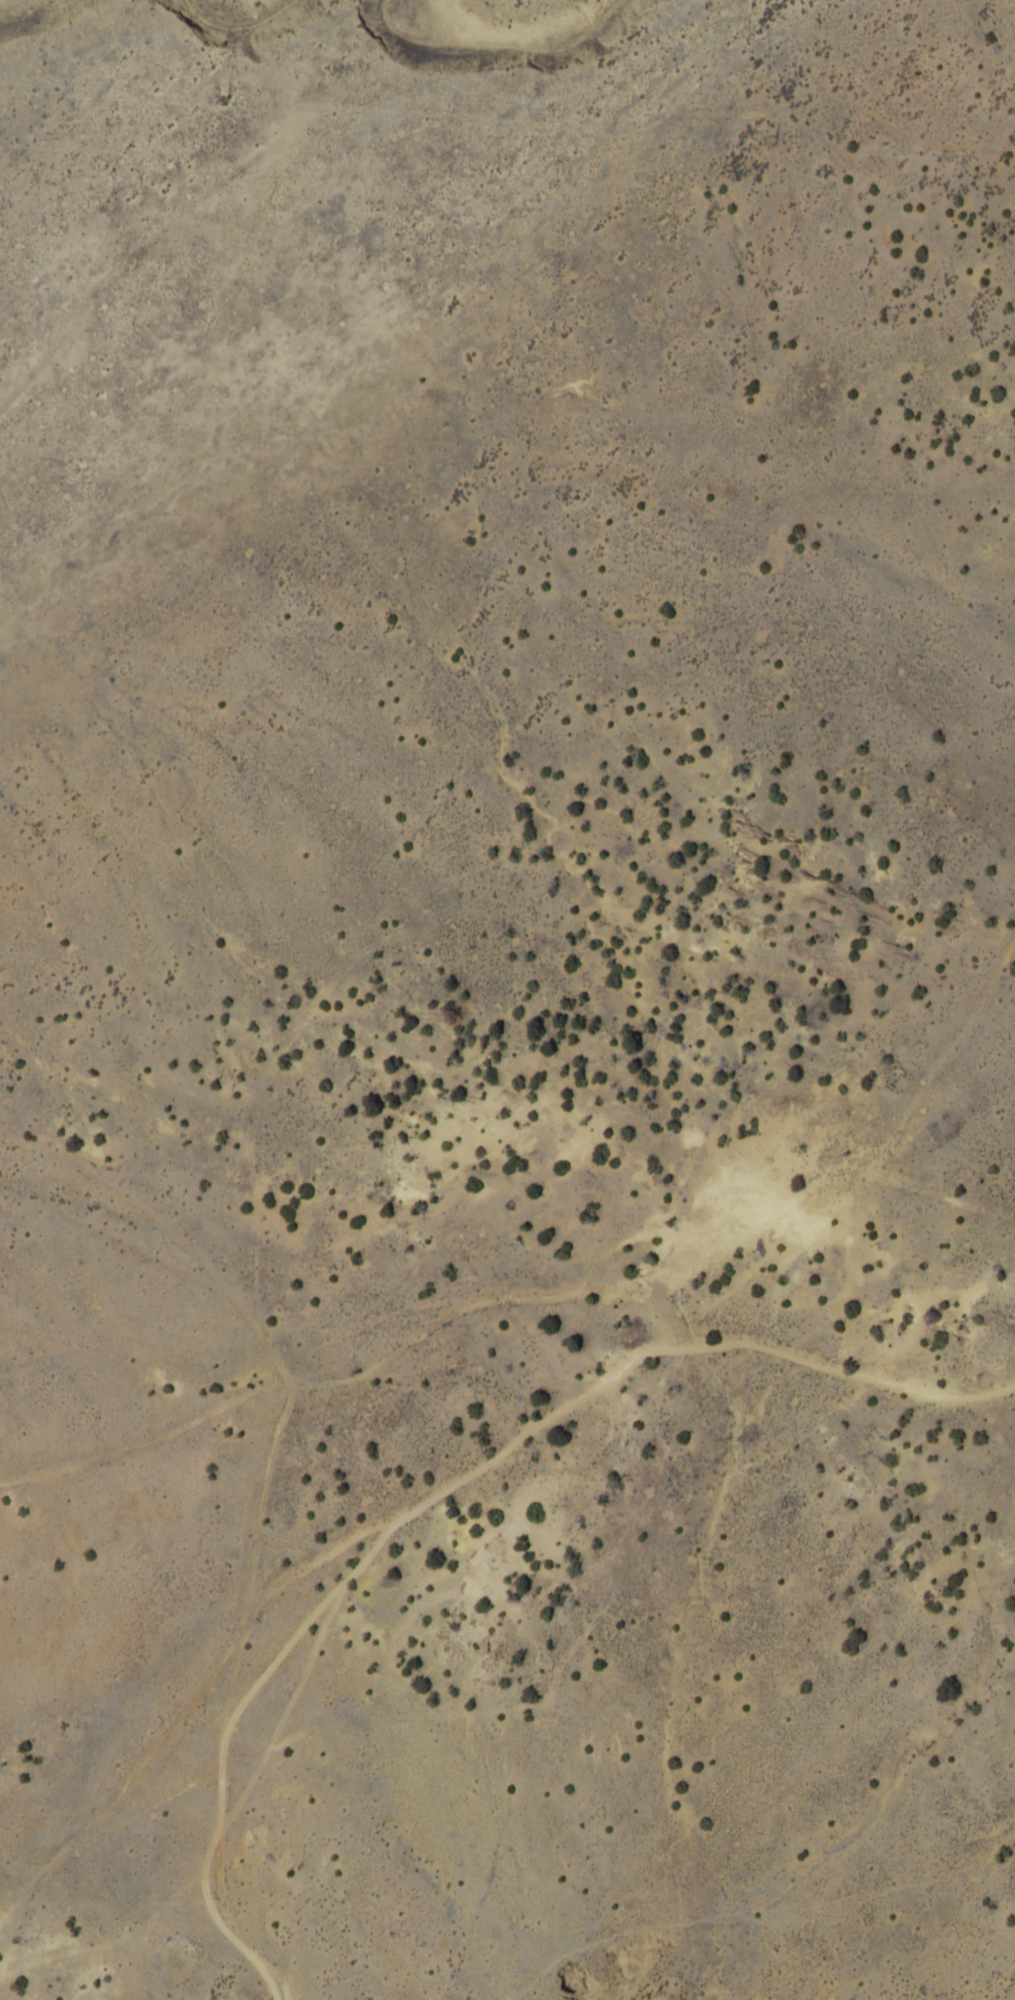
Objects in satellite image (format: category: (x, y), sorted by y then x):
power tower: (215, 104)
power tower: (764, 142)
road: (466, 1475)

